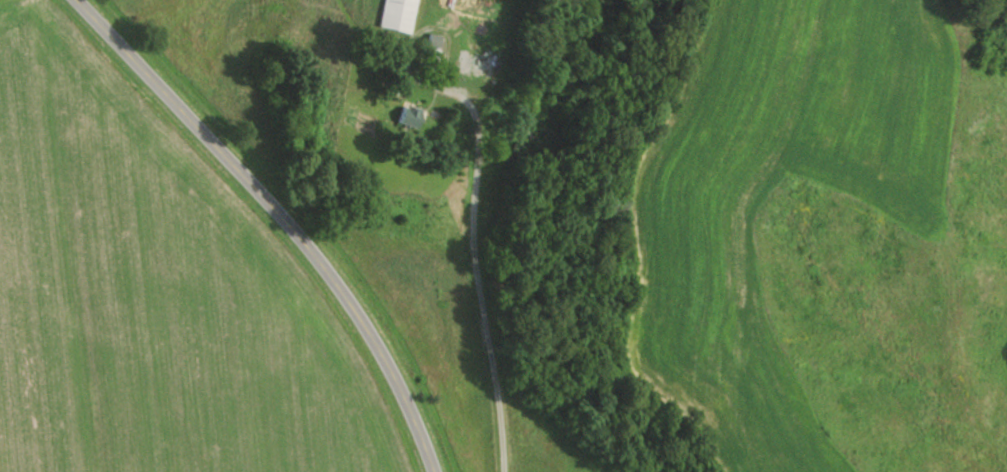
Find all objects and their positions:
building: (469, 7)
building: (394, 15)
building: (473, 66)
building: (404, 116)
road: (282, 216)
road: (477, 253)

